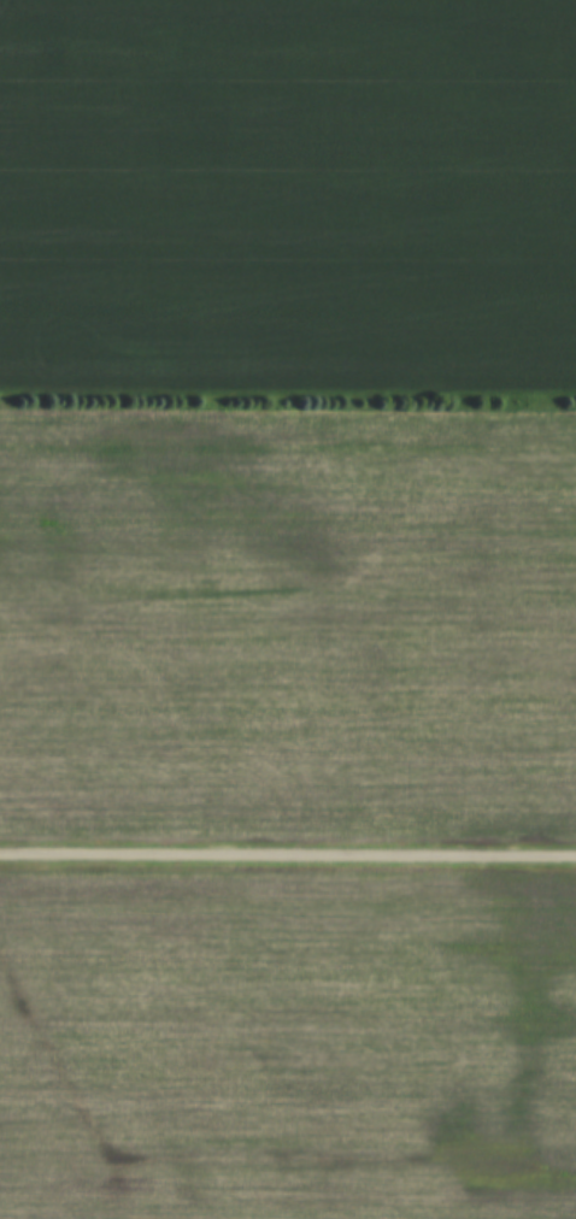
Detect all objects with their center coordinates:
road: (288, 853)

